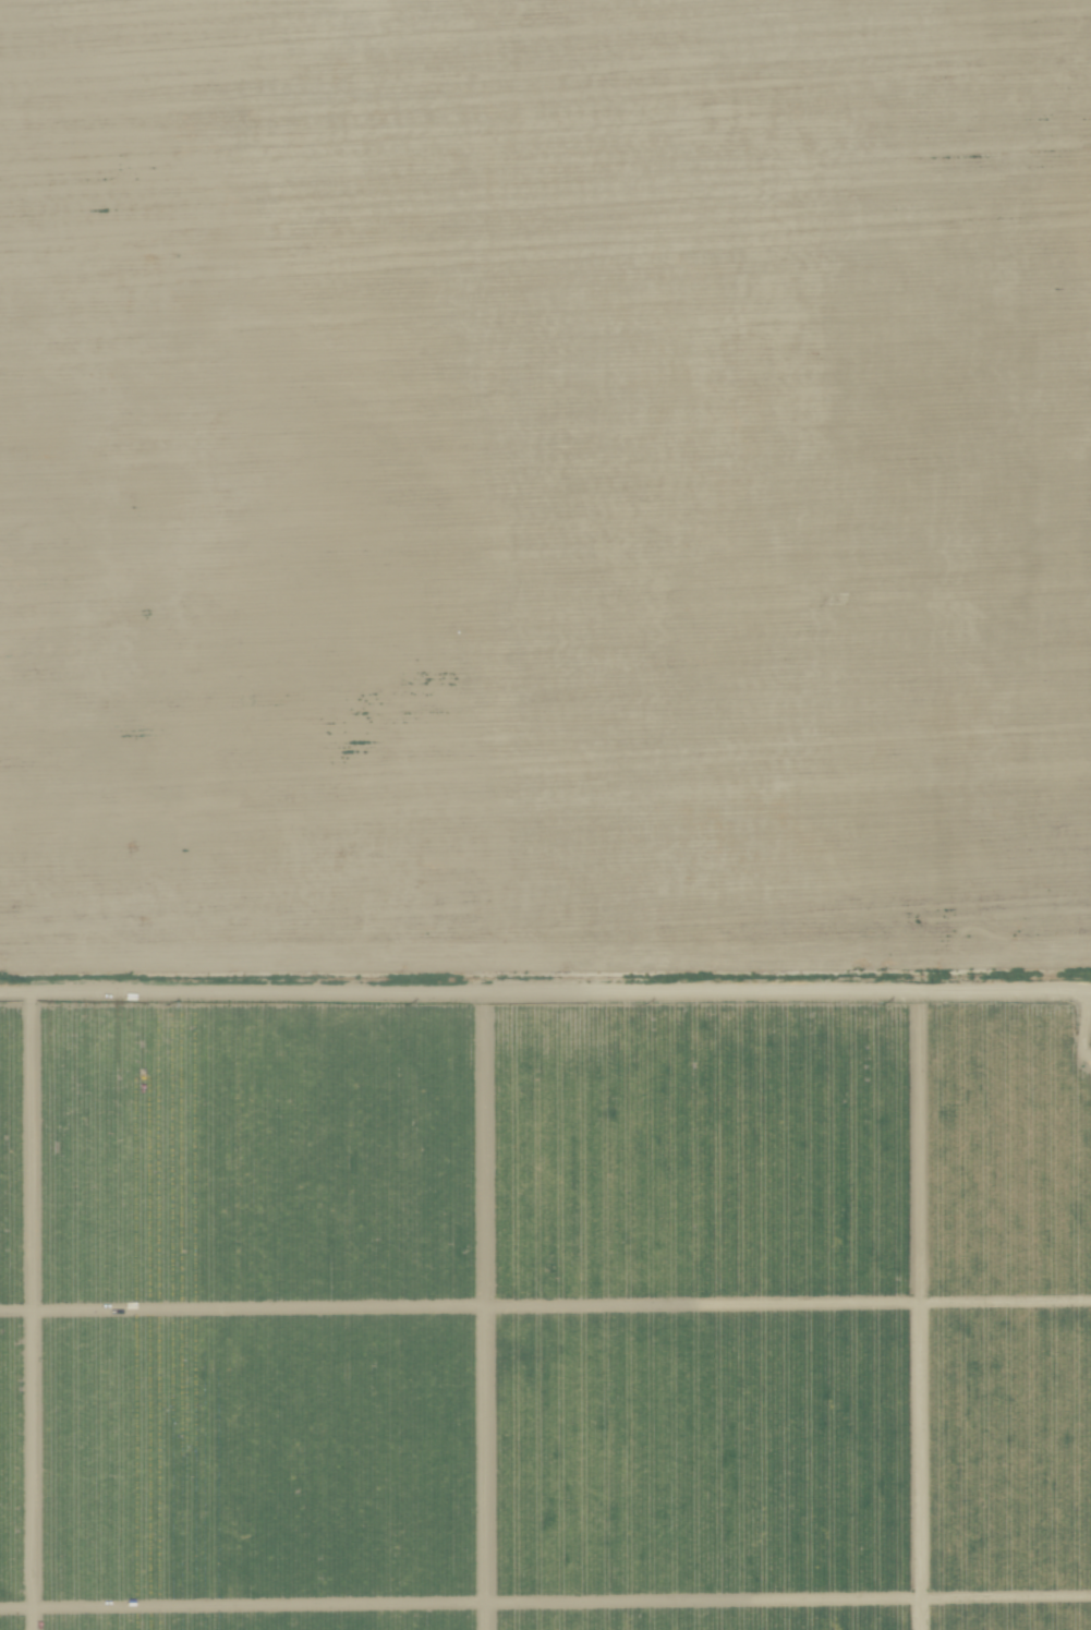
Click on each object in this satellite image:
road: (221, 155)
road: (490, 493)
road: (545, 1000)

